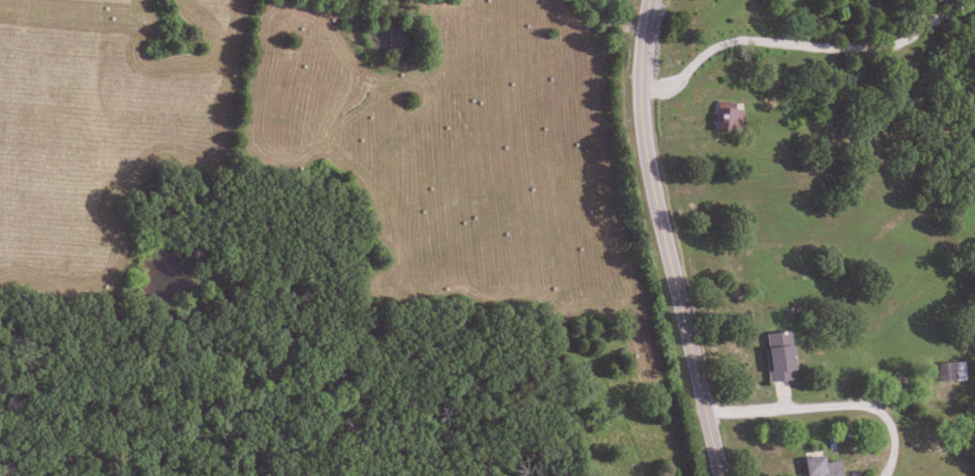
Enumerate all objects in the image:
road: (803, 44)
road: (664, 239)
building: (774, 364)
road: (830, 403)
building: (816, 467)

